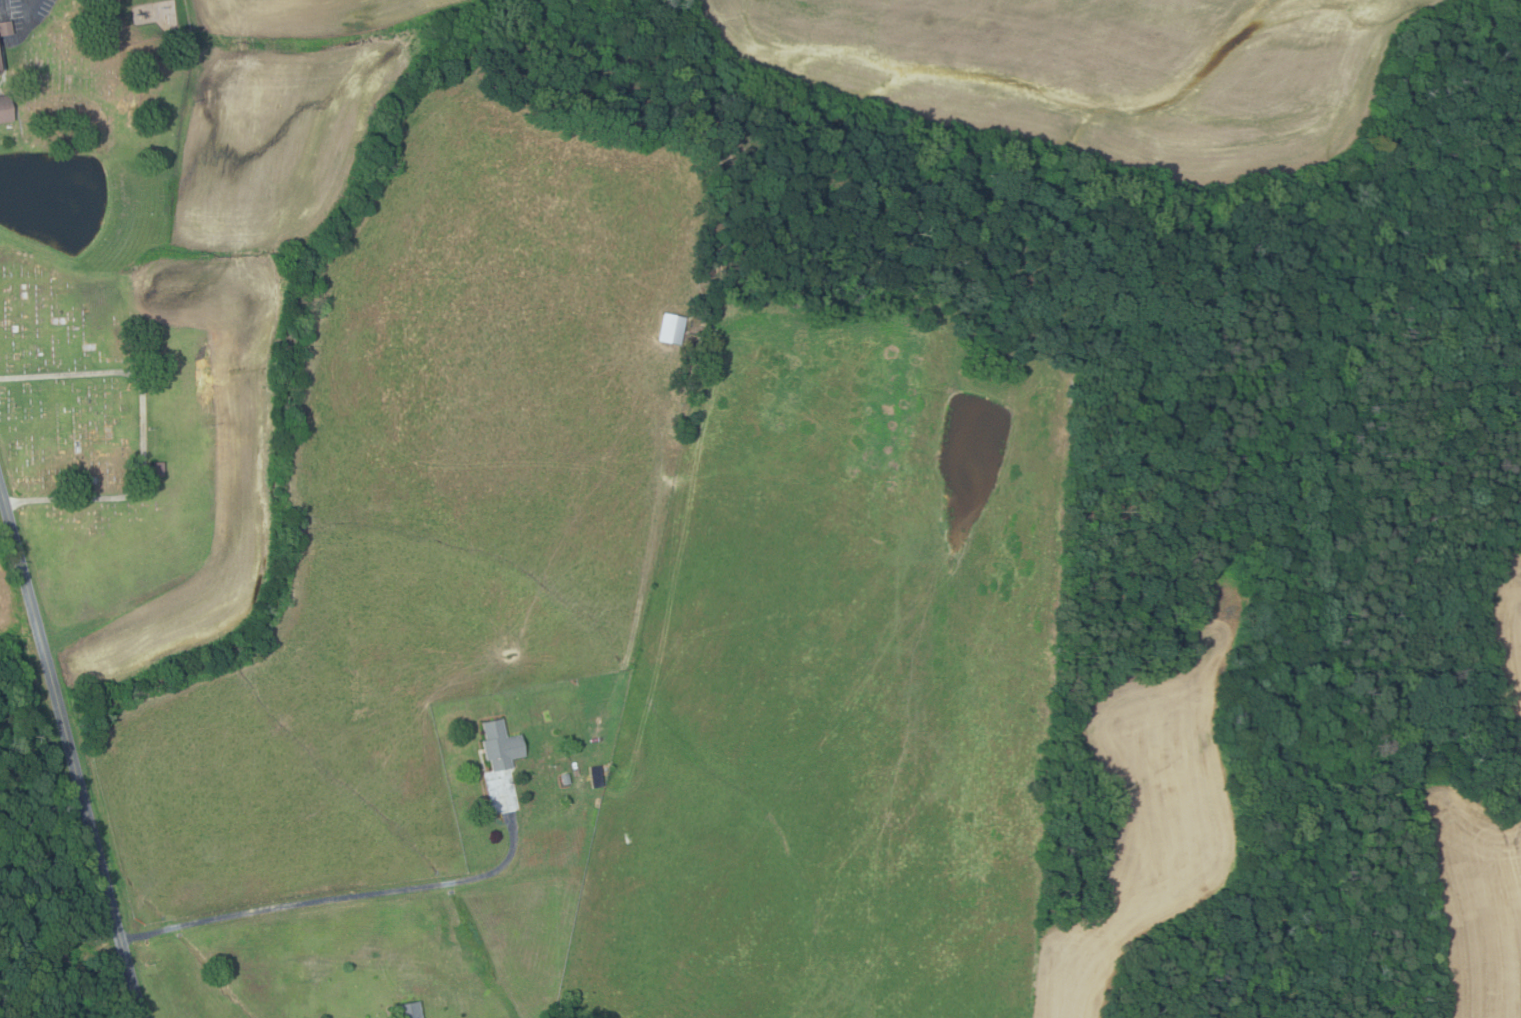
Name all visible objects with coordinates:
road: (32, 10)
building: (7, 27)
building: (1, 60)
building: (0, 70)
crop: (1100, 71)
building: (7, 108)
building: (670, 329)
road: (144, 432)
park: (101, 438)
building: (160, 468)
crop: (4, 608)
building: (498, 745)
road: (70, 753)
building: (594, 776)
building: (564, 779)
crop: (1151, 803)
crop: (1484, 838)
road: (357, 895)
building: (406, 1010)

